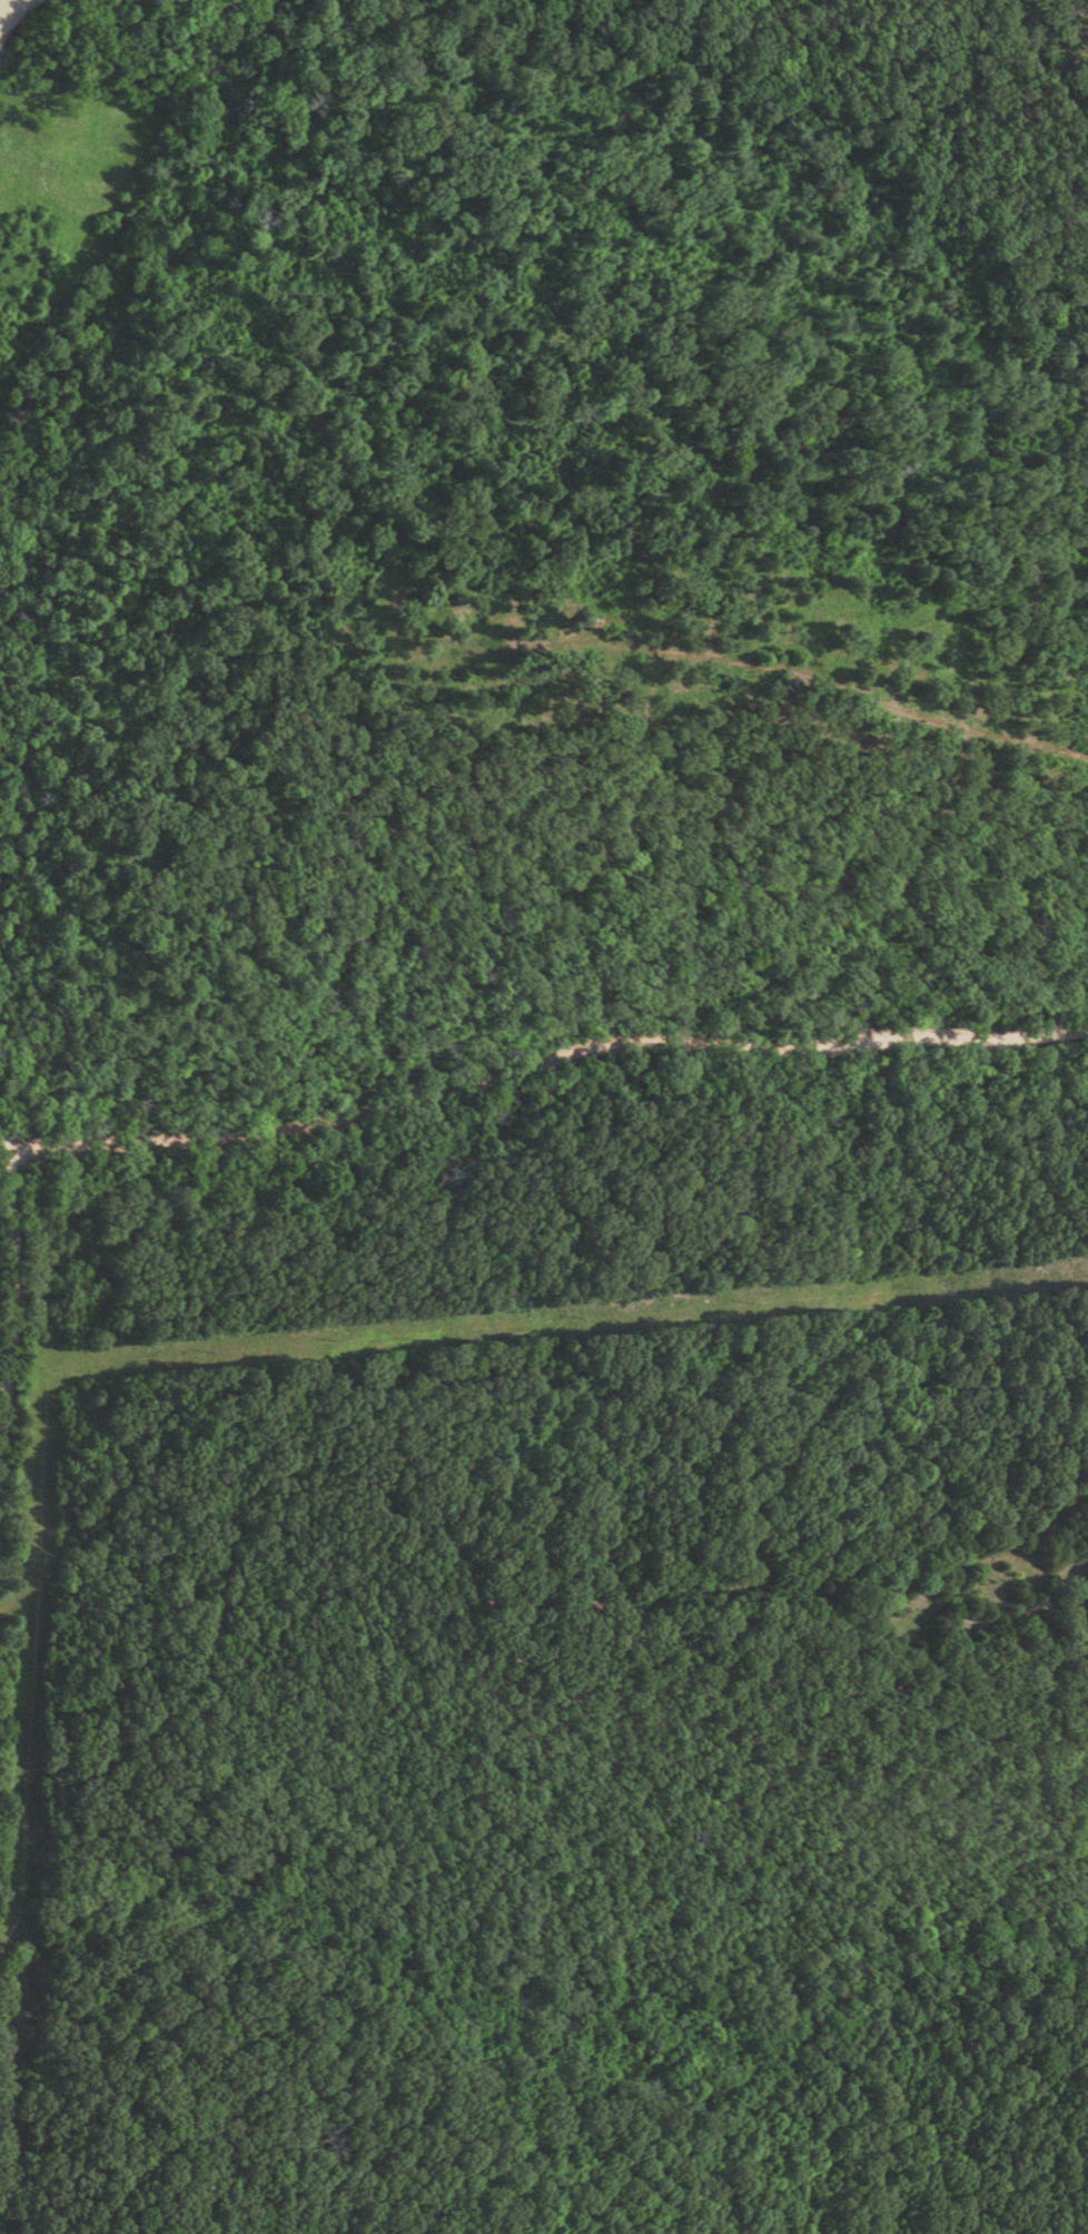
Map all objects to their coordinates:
road: (548, 1060)
road: (22, 1364)
road: (3, 2186)

